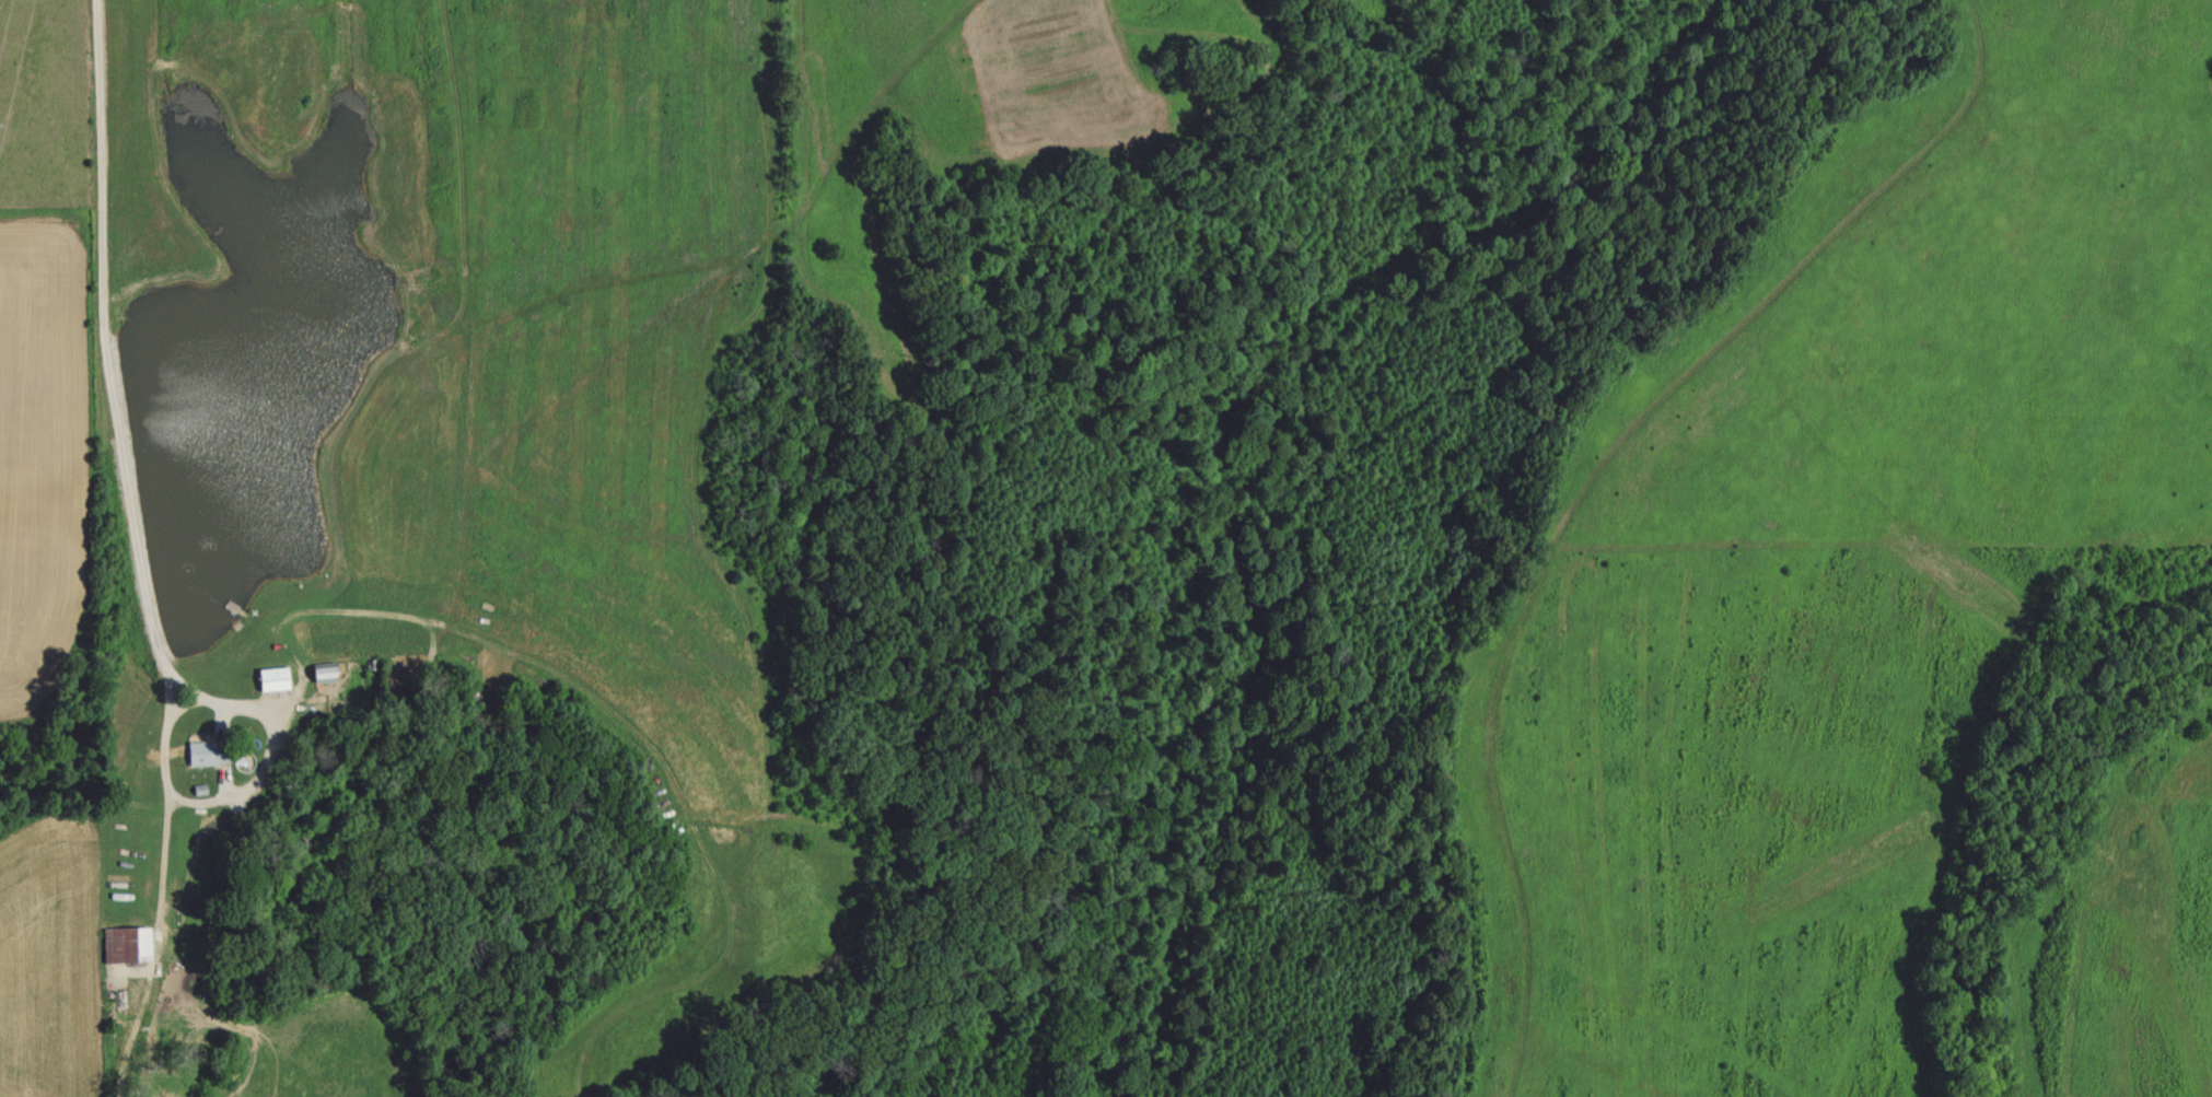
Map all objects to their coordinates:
road: (104, 352)
building: (323, 670)
building: (271, 677)
building: (480, 708)
building: (206, 750)
road: (218, 806)
building: (125, 943)

